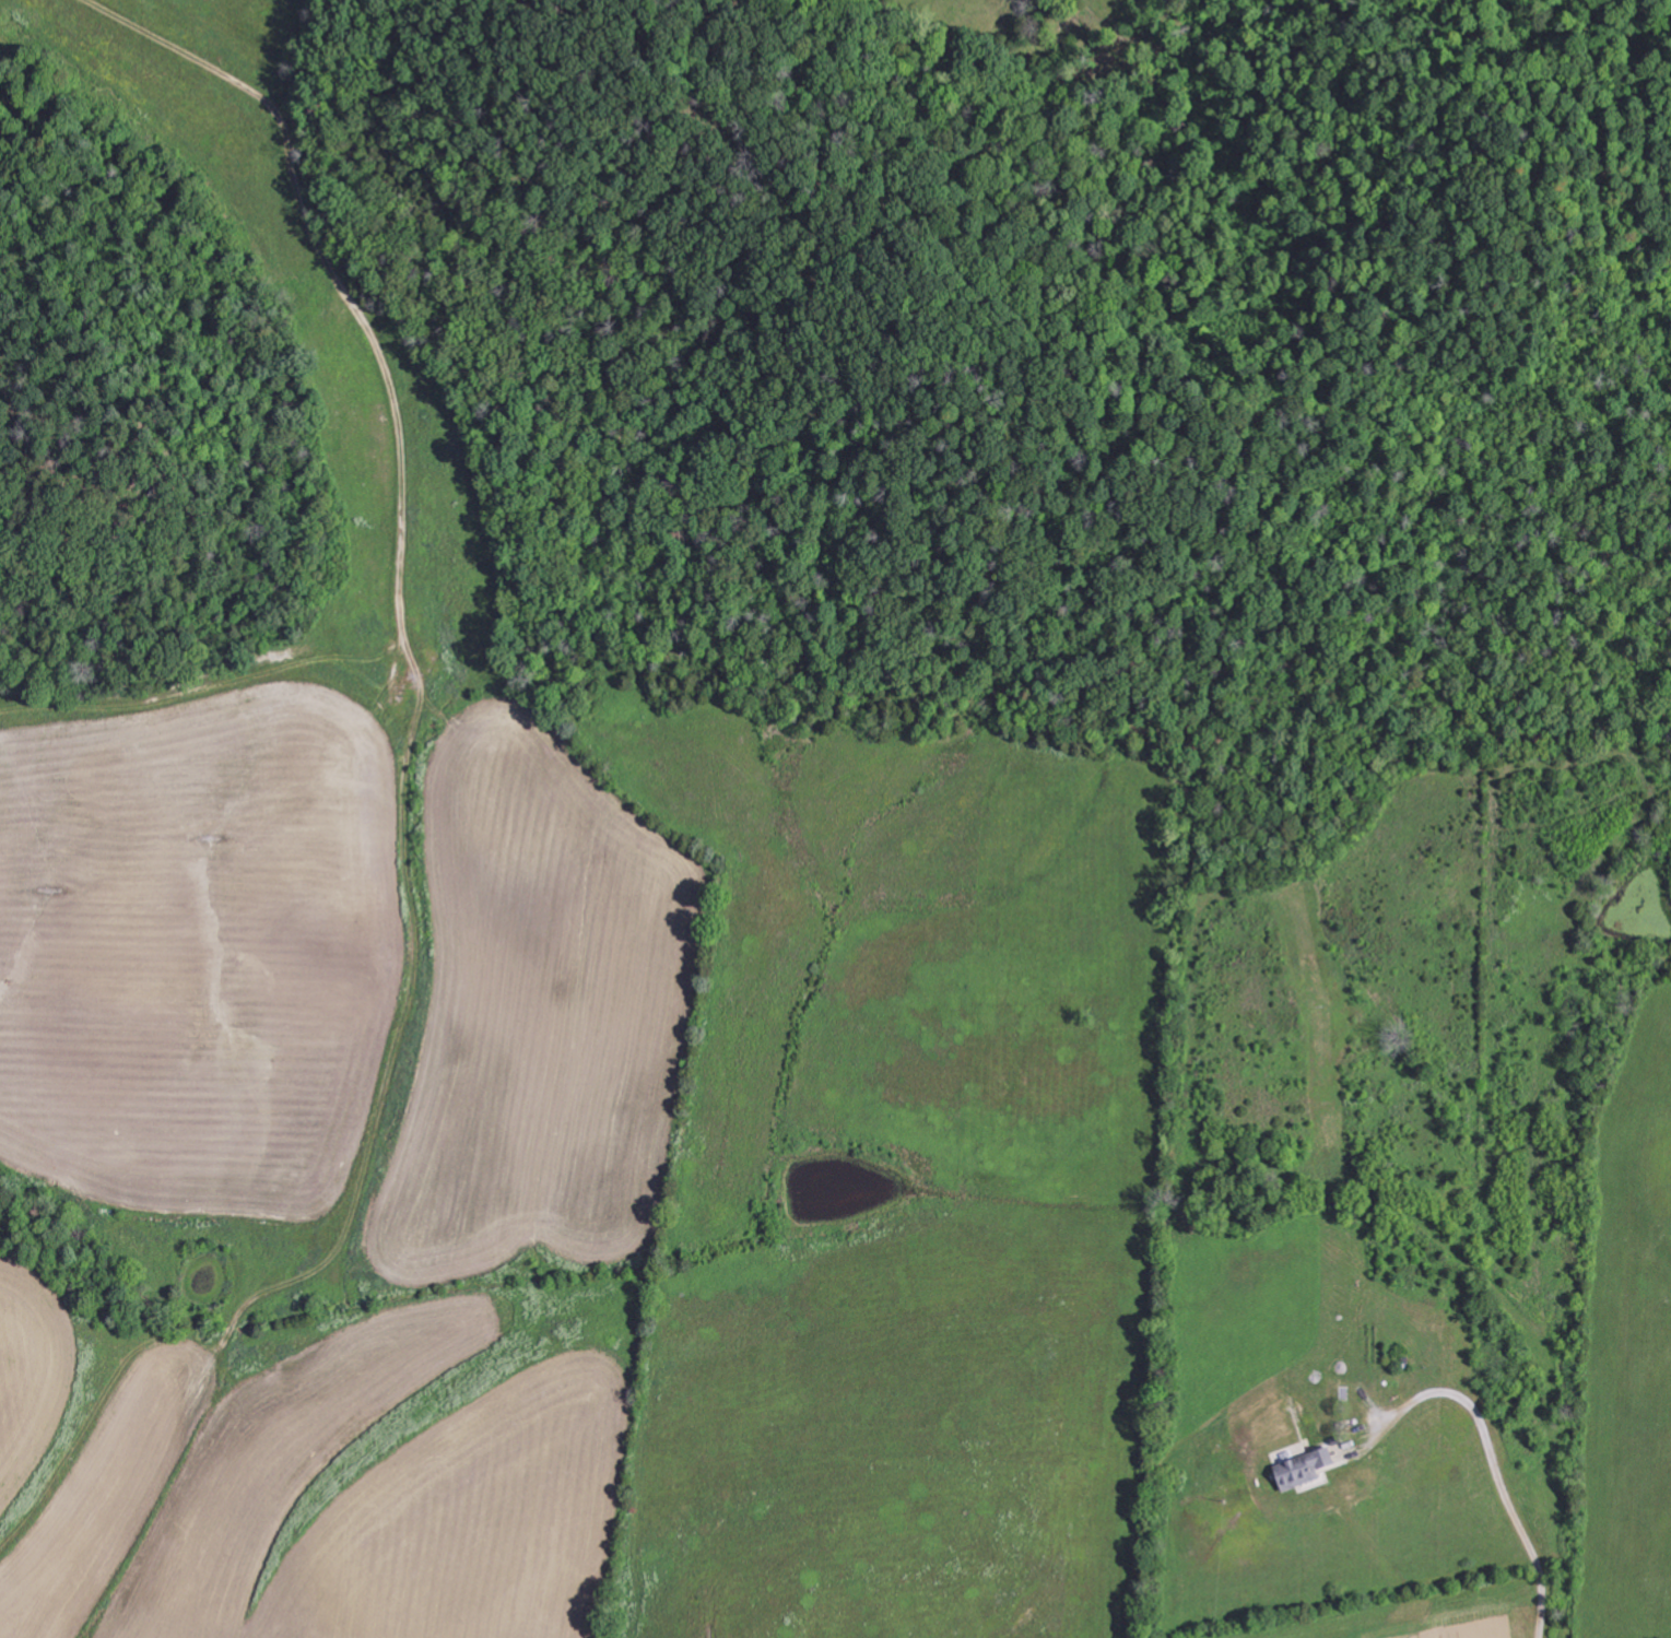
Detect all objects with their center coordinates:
road: (1562, 1591)

